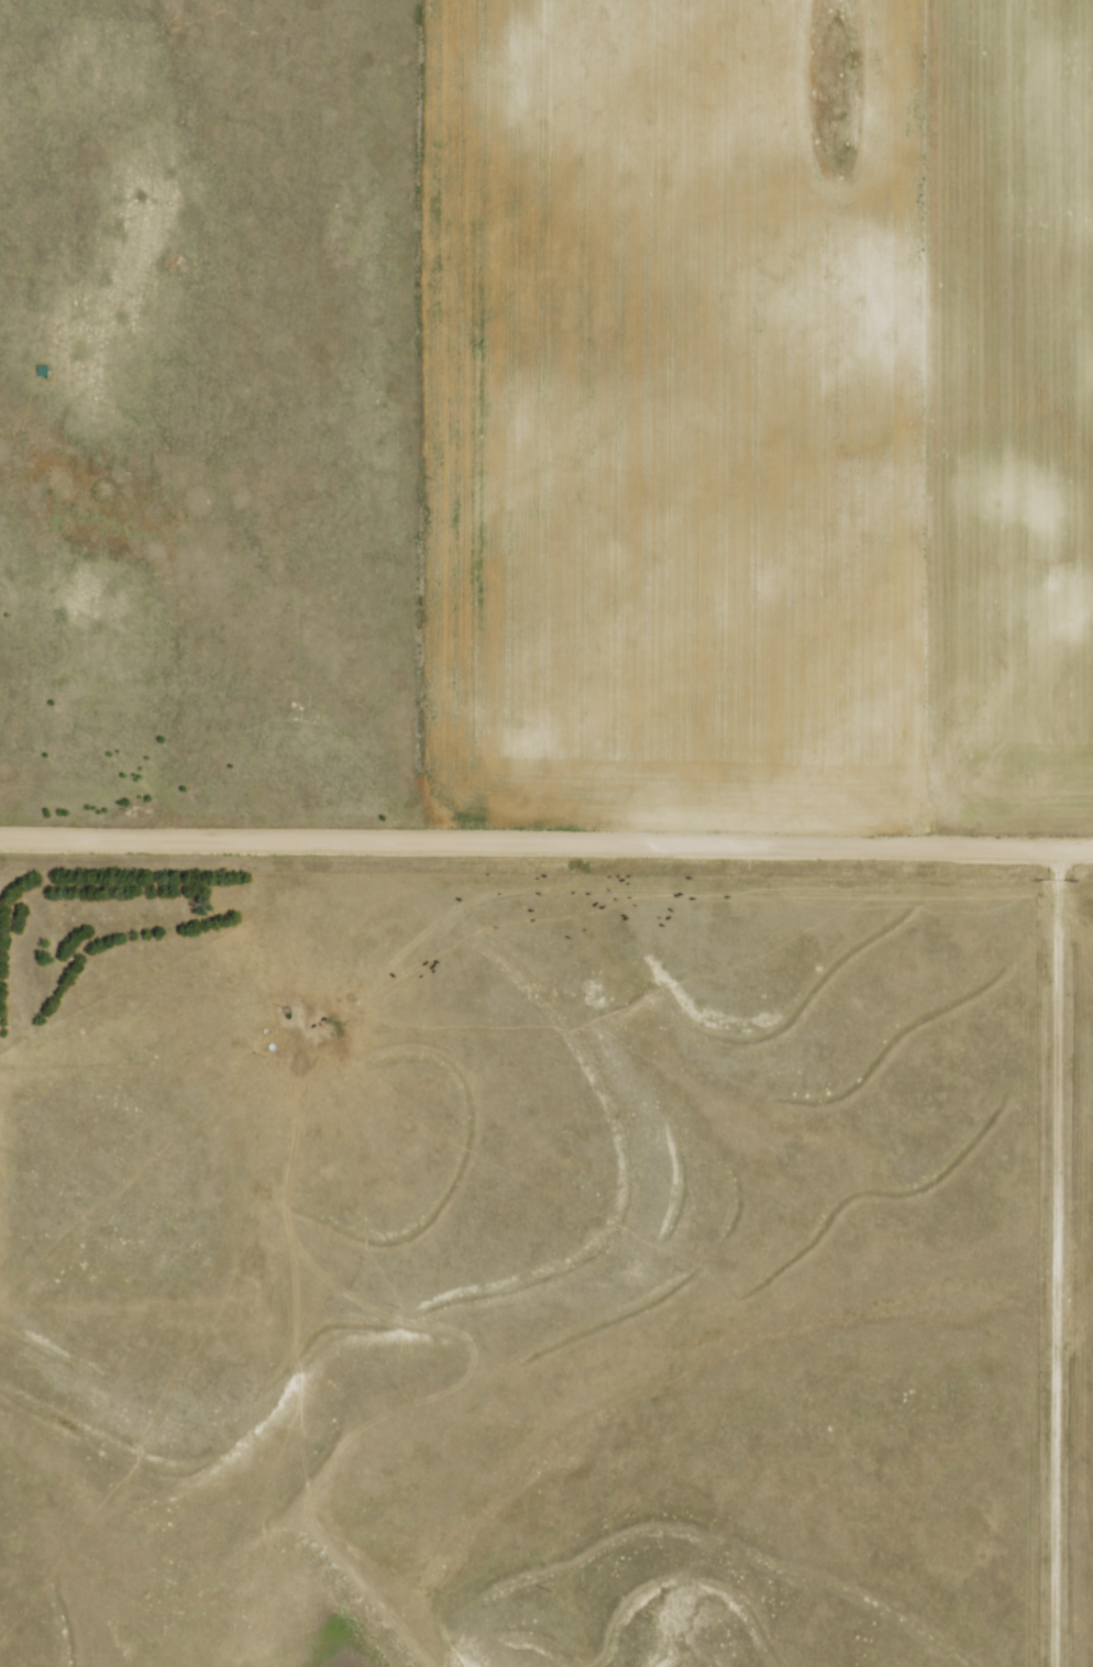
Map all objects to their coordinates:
road: (546, 837)
road: (1060, 1254)
dam: (358, 1596)

